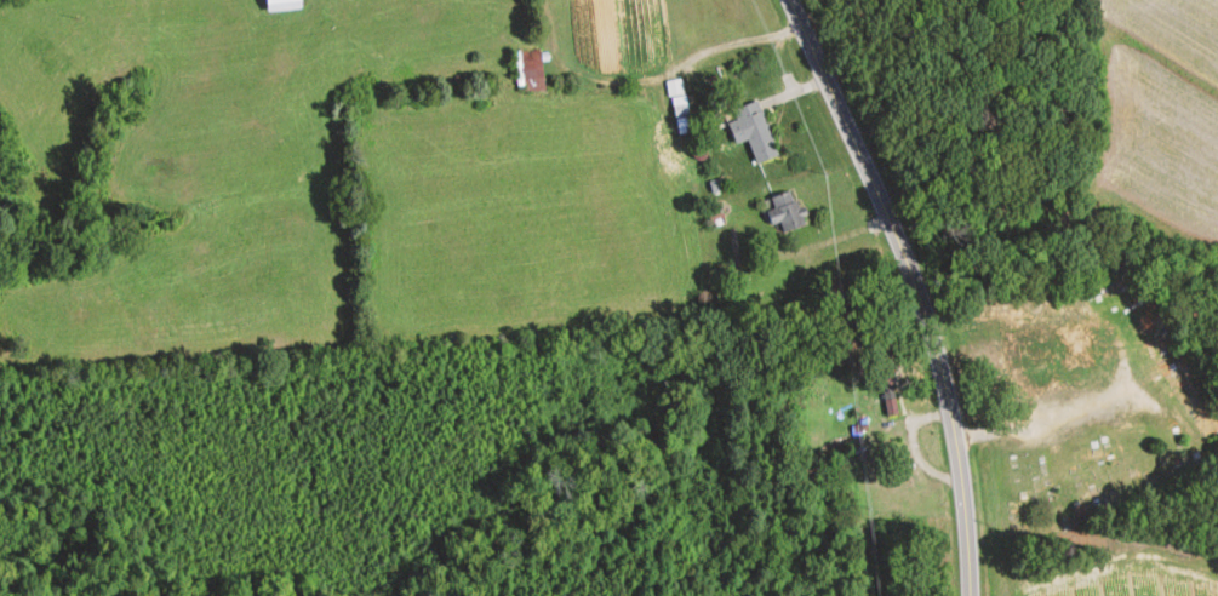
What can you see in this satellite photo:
building: (281, 5)
building: (528, 70)
building: (753, 132)
building: (787, 212)
road: (916, 287)
building: (1057, 351)
building: (887, 389)

